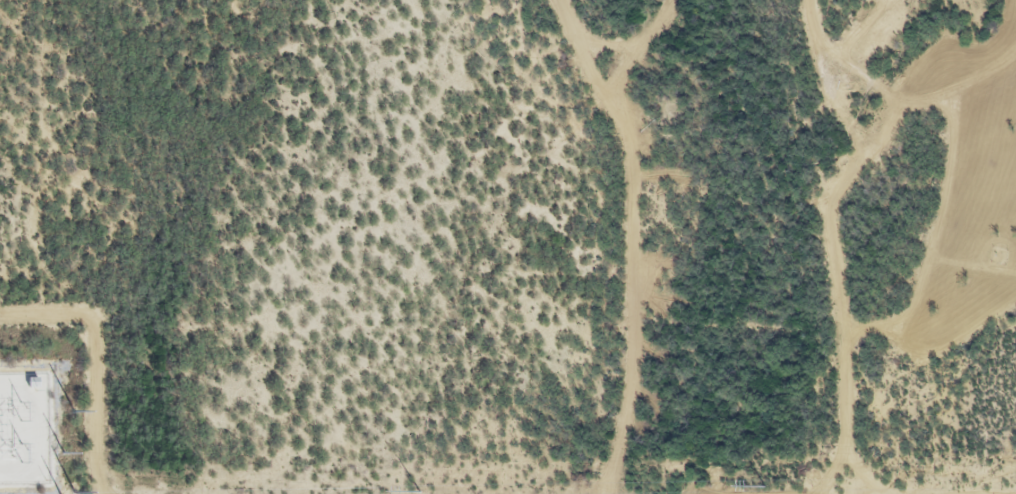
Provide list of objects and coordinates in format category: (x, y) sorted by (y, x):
power tower: (72, 410)
power substation: (24, 428)
power tower: (764, 486)
power tower: (419, 492)
power tower: (73, 493)

